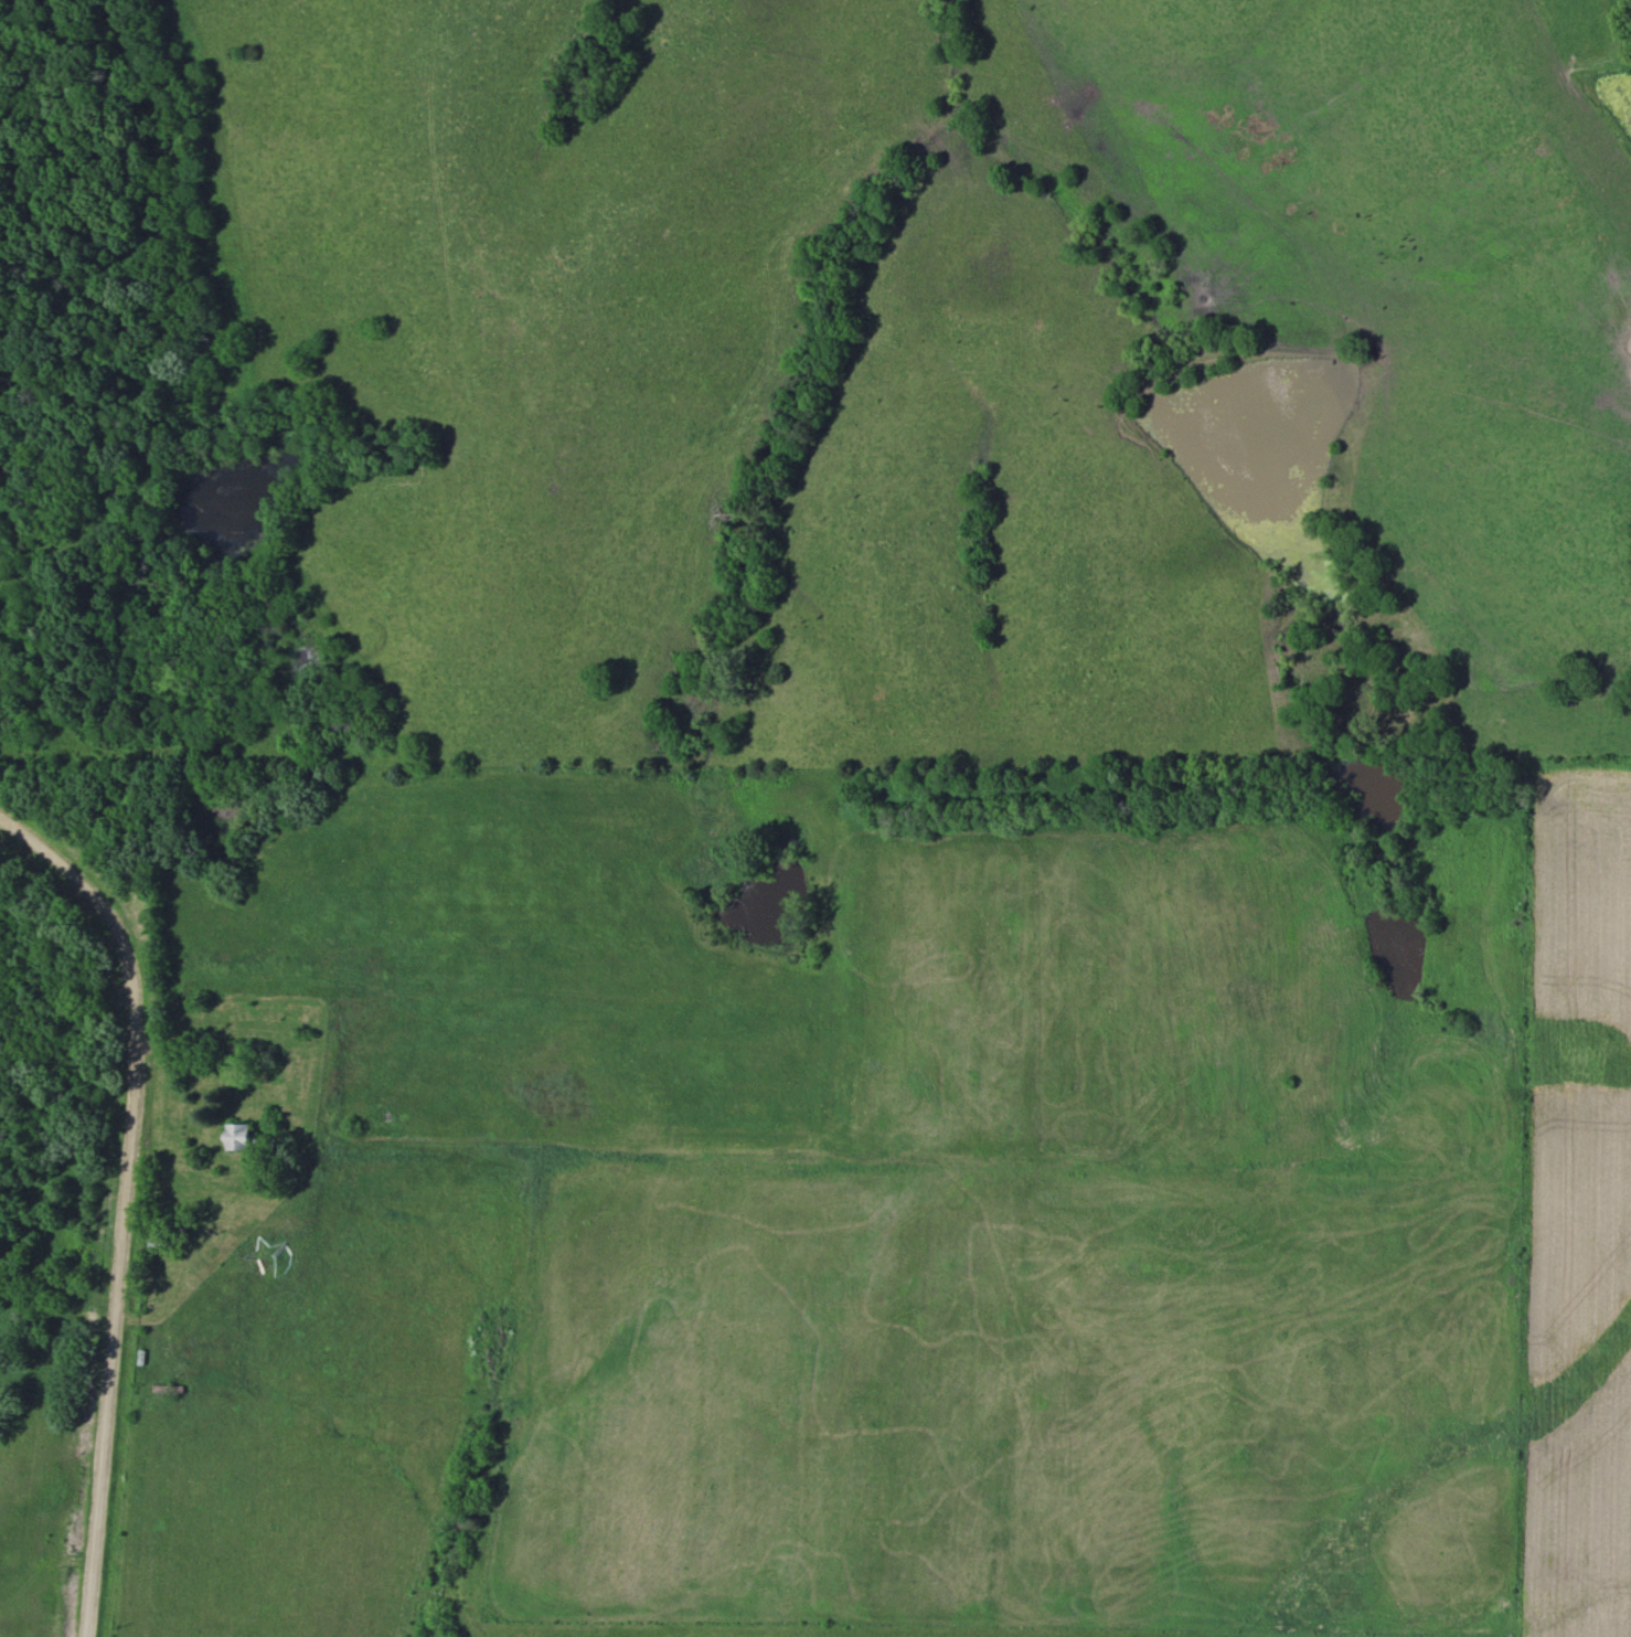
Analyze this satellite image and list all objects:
road: (122, 1199)

